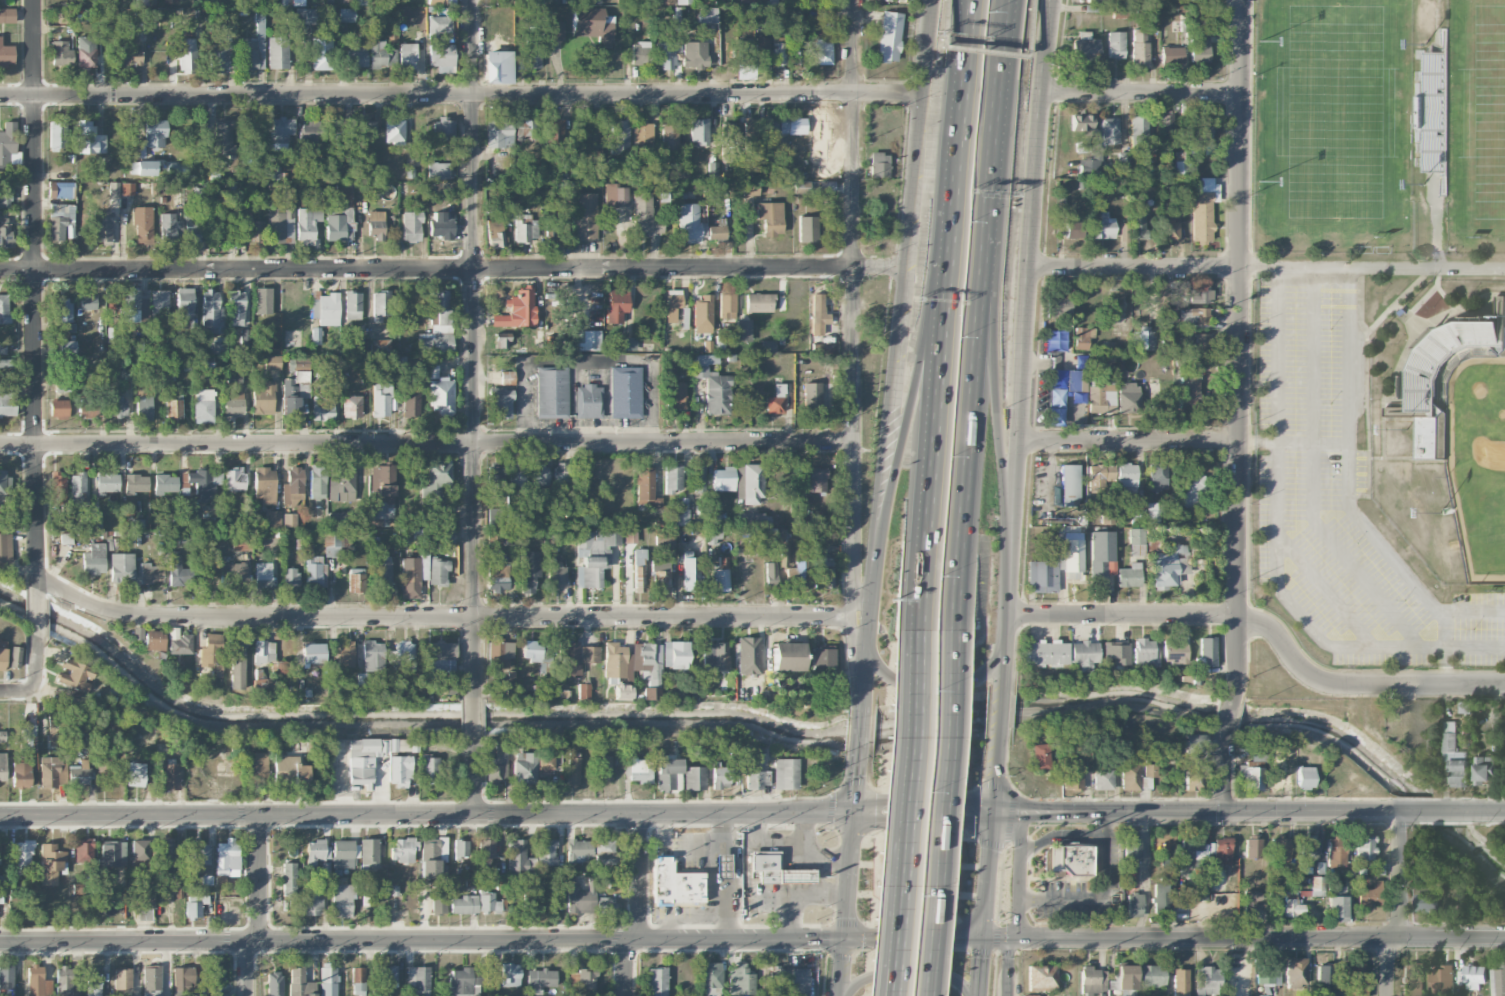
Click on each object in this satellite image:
building: (547, 0)
building: (595, 0)
building: (802, 0)
building: (170, 1)
building: (745, 1)
building: (360, 2)
building: (436, 2)
building: (666, 2)
building: (685, 2)
building: (773, 2)
building: (299, 14)
building: (347, 14)
building: (7, 15)
building: (707, 15)
building: (65, 16)
building: (312, 16)
building: (592, 23)
building: (438, 26)
building: (554, 30)
building: (889, 36)
building: (796, 41)
building: (1115, 44)
building: (1085, 46)
building: (1139, 48)
building: (1199, 48)
building: (779, 50)
road: (988, 50)
building: (86, 51)
building: (253, 52)
building: (278, 52)
building: (640, 52)
building: (743, 52)
building: (761, 52)
building: (823, 52)
building: (223, 53)
building: (321, 53)
building: (532, 53)
building: (61, 54)
building: (694, 54)
building: (6, 55)
building: (187, 55)
building: (380, 55)
building: (440, 55)
building: (665, 55)
building: (1171, 55)
building: (407, 56)
building: (798, 57)
building: (131, 58)
building: (356, 58)
building: (497, 67)
road: (1143, 91)
road: (959, 93)
road: (998, 94)
road: (462, 96)
building: (1435, 110)
building: (1080, 122)
building: (792, 125)
building: (1167, 125)
building: (335, 127)
building: (366, 127)
building: (444, 128)
building: (525, 129)
building: (750, 131)
building: (769, 131)
building: (280, 132)
building: (393, 132)
building: (554, 132)
building: (699, 132)
building: (155, 133)
building: (1138, 133)
building: (57, 134)
building: (311, 134)
building: (499, 134)
building: (642, 134)
building: (1200, 134)
building: (619, 136)
building: (669, 137)
building: (89, 138)
building: (223, 138)
building: (728, 141)
building: (8, 145)
building: (1095, 152)
building: (594, 154)
building: (1123, 163)
building: (879, 165)
building: (146, 167)
building: (178, 169)
building: (437, 170)
building: (273, 173)
building: (56, 175)
building: (230, 186)
building: (826, 187)
building: (127, 188)
building: (750, 188)
building: (113, 189)
building: (61, 190)
building: (343, 190)
building: (615, 195)
building: (4, 197)
building: (1203, 209)
building: (645, 216)
building: (586, 217)
building: (770, 217)
building: (59, 220)
building: (689, 222)
building: (340, 223)
building: (142, 224)
building: (280, 224)
building: (442, 224)
building: (307, 225)
building: (375, 225)
building: (1138, 225)
building: (103, 226)
building: (411, 226)
building: (169, 227)
building: (218, 227)
building: (1103, 227)
building: (191, 228)
building: (525, 228)
building: (807, 229)
building: (1074, 229)
building: (1169, 230)
building: (256, 231)
building: (1124, 231)
building: (4, 233)
building: (555, 233)
building: (495, 234)
road: (451, 268)
road: (1267, 268)
building: (1198, 294)
road: (34, 296)
building: (263, 300)
building: (758, 302)
building: (87, 303)
building: (132, 303)
building: (184, 303)
building: (672, 304)
road: (851, 304)
building: (352, 305)
building: (380, 305)
building: (616, 305)
building: (727, 305)
building: (1060, 307)
building: (4, 308)
building: (235, 308)
building: (325, 308)
building: (517, 310)
building: (63, 312)
building: (211, 313)
building: (703, 314)
building: (819, 316)
building: (1193, 316)
building: (436, 325)
building: (743, 330)
building: (315, 335)
building: (1083, 337)
building: (1143, 337)
building: (1055, 339)
building: (588, 340)
building: (245, 342)
building: (505, 342)
building: (1200, 342)
building: (629, 343)
building: (216, 345)
building: (64, 346)
building: (378, 346)
building: (768, 346)
road: (471, 350)
road: (1278, 354)
road: (1311, 354)
road: (1347, 355)
road: (938, 358)
building: (272, 362)
building: (332, 362)
road: (974, 362)
building: (296, 364)
road: (991, 372)
building: (507, 377)
building: (234, 378)
building: (1075, 385)
building: (712, 386)
building: (1409, 387)
road: (912, 390)
building: (294, 391)
building: (625, 392)
building: (552, 393)
building: (1188, 393)
building: (440, 394)
building: (676, 395)
building: (1101, 396)
building: (1056, 397)
building: (263, 398)
building: (811, 398)
building: (1127, 398)
building: (380, 400)
building: (411, 400)
building: (775, 400)
building: (588, 401)
building: (144, 402)
building: (233, 403)
building: (500, 403)
building: (7, 404)
building: (204, 406)
building: (351, 406)
road: (1242, 406)
building: (116, 407)
building: (322, 407)
building: (59, 408)
building: (173, 408)
building: (86, 412)
road: (1260, 441)
road: (1132, 442)
road: (425, 443)
building: (563, 471)
building: (495, 474)
building: (517, 474)
building: (539, 474)
building: (1100, 475)
building: (1158, 476)
building: (673, 478)
building: (1126, 478)
building: (341, 479)
building: (699, 479)
building: (723, 479)
building: (4, 480)
building: (235, 480)
building: (816, 480)
building: (317, 481)
building: (202, 482)
building: (107, 483)
building: (136, 483)
building: (165, 483)
building: (752, 484)
building: (1069, 485)
building: (264, 486)
building: (293, 486)
building: (58, 487)
building: (77, 487)
building: (646, 488)
building: (1192, 489)
building: (434, 491)
building: (382, 494)
road: (875, 497)
road: (1016, 497)
building: (127, 508)
building: (1137, 508)
building: (682, 511)
building: (1153, 513)
building: (494, 518)
building: (273, 519)
building: (289, 519)
building: (335, 519)
building: (753, 519)
building: (714, 520)
building: (712, 535)
building: (787, 535)
building: (446, 536)
building: (494, 536)
road: (1367, 536)
building: (631, 537)
building: (666, 537)
building: (66, 538)
building: (612, 538)
building: (335, 541)
building: (1136, 541)
building: (241, 543)
building: (5, 547)
building: (587, 552)
building: (785, 554)
building: (1101, 556)
building: (94, 559)
building: (1072, 559)
building: (591, 560)
building: (1167, 565)
building: (121, 567)
building: (639, 568)
building: (178, 571)
building: (315, 572)
building: (438, 572)
building: (528, 572)
building: (660, 572)
building: (690, 572)
building: (822, 572)
building: (151, 573)
building: (383, 574)
building: (556, 574)
building: (720, 574)
building: (771, 575)
building: (1129, 575)
building: (233, 576)
building: (262, 576)
building: (1042, 576)
building: (410, 577)
building: (497, 578)
building: (291, 579)
building: (797, 579)
building: (356, 580)
road: (859, 600)
road: (36, 612)
road: (441, 615)
road: (1126, 615)
road: (856, 630)
building: (137, 633)
building: (154, 640)
building: (179, 642)
building: (211, 650)
road: (1444, 650)
building: (264, 651)
building: (1145, 651)
building: (1206, 651)
building: (1116, 652)
building: (1174, 652)
building: (313, 653)
building: (499, 653)
building: (537, 653)
building: (1047, 653)
building: (1084, 653)
building: (589, 654)
building: (676, 654)
building: (345, 655)
building: (715, 655)
building: (748, 655)
building: (372, 656)
building: (402, 656)
building: (786, 656)
building: (15, 657)
road: (36, 657)
building: (2, 658)
building: (442, 658)
building: (822, 659)
building: (570, 660)
building: (614, 660)
building: (238, 663)
building: (74, 674)
road: (913, 681)
building: (260, 683)
road: (1358, 684)
building: (450, 687)
road: (943, 687)
road: (18, 691)
building: (501, 691)
building: (583, 691)
building: (622, 692)
building: (651, 693)
building: (1464, 706)
road: (472, 719)
building: (55, 728)
building: (30, 736)
building: (1194, 743)
building: (372, 755)
building: (1041, 756)
building: (1455, 756)
building: (746, 757)
building: (1254, 760)
building: (496, 763)
building: (102, 764)
building: (544, 765)
road: (942, 765)
building: (2, 766)
building: (255, 767)
building: (282, 767)
building: (523, 768)
building: (572, 768)
building: (602, 768)
building: (639, 769)
building: (430, 770)
building: (1150, 770)
building: (1485, 770)
building: (400, 771)
building: (50, 772)
building: (668, 773)
building: (784, 773)
building: (1129, 773)
building: (21, 774)
building: (79, 774)
building: (136, 774)
road: (472, 774)
building: (1072, 774)
building: (299, 775)
building: (720, 775)
building: (169, 776)
building: (695, 777)
traffic signals: (858, 777)
building: (1251, 777)
building: (1305, 777)
building: (1193, 778)
building: (756, 779)
building: (1103, 779)
road: (925, 803)
traffic signals: (875, 805)
road: (1250, 811)
road: (427, 812)
traffic signals: (1017, 812)
traffic signals: (874, 824)
road: (924, 824)
road: (1102, 824)
road: (803, 827)
road: (1059, 835)
road: (680, 842)
road: (793, 842)
building: (1308, 845)
building: (1280, 846)
building: (1253, 847)
building: (460, 848)
traffic signals: (994, 848)
building: (403, 849)
building: (1130, 849)
building: (1364, 849)
building: (83, 851)
building: (486, 851)
building: (579, 851)
building: (604, 851)
building: (1191, 851)
building: (1221, 851)
building: (1336, 851)
building: (141, 852)
building: (317, 852)
building: (201, 853)
building: (369, 853)
building: (546, 853)
building: (0, 854)
building: (112, 854)
building: (345, 854)
road: (834, 856)
building: (22, 858)
building: (519, 858)
building: (226, 859)
building: (433, 859)
building: (1065, 859)
building: (1164, 863)
building: (50, 864)
building: (721, 866)
building: (776, 869)
road: (1399, 874)
road: (733, 875)
road: (640, 876)
road: (1019, 876)
road: (261, 878)
building: (289, 880)
building: (675, 883)
building: (1317, 886)
road: (796, 892)
building: (1199, 893)
building: (146, 895)
building: (529, 895)
road: (1089, 895)
building: (1369, 895)
building: (1162, 896)
building: (1, 898)
building: (343, 899)
building: (368, 899)
building: (578, 899)
building: (1251, 900)
building: (438, 902)
building: (488, 902)
building: (1427, 902)
building: (311, 903)
building: (1133, 903)
building: (1336, 903)
building: (463, 904)
building: (604, 905)
building: (1273, 905)
building: (1293, 905)
building: (193, 909)
road: (888, 914)
road: (898, 914)
road: (688, 917)
traffic signals: (846, 919)
road: (752, 940)
traffic signals: (821, 940)
traffic signals: (966, 942)
traffic signals: (985, 958)
road: (1388, 966)
road: (628, 968)
road: (1010, 968)
road: (249, 969)
building: (1296, 973)
building: (510, 975)
building: (1268, 975)
building: (388, 976)
building: (1041, 976)
building: (1152, 976)
building: (1125, 977)
building: (1474, 977)
building: (183, 978)
building: (711, 978)
road: (911, 978)
building: (7, 979)
building: (122, 979)
building: (1413, 979)
building: (210, 980)
building: (539, 980)
building: (741, 980)
building: (774, 980)
building: (800, 980)
building: (1442, 980)
building: (63, 981)
building: (151, 981)
building: (328, 981)
building: (358, 981)
building: (418, 981)
building: (586, 981)
building: (656, 981)
building: (1092, 981)
building: (1180, 981)
building: (1207, 981)
building: (1326, 981)
building: (1355, 981)
building: (1498, 981)
building: (37, 982)
building: (464, 982)
building: (274, 983)
building: (300, 983)
building: (93, 984)
building: (76, 994)
building: (795, 994)
building: (194, 995)
building: (1029, 995)

